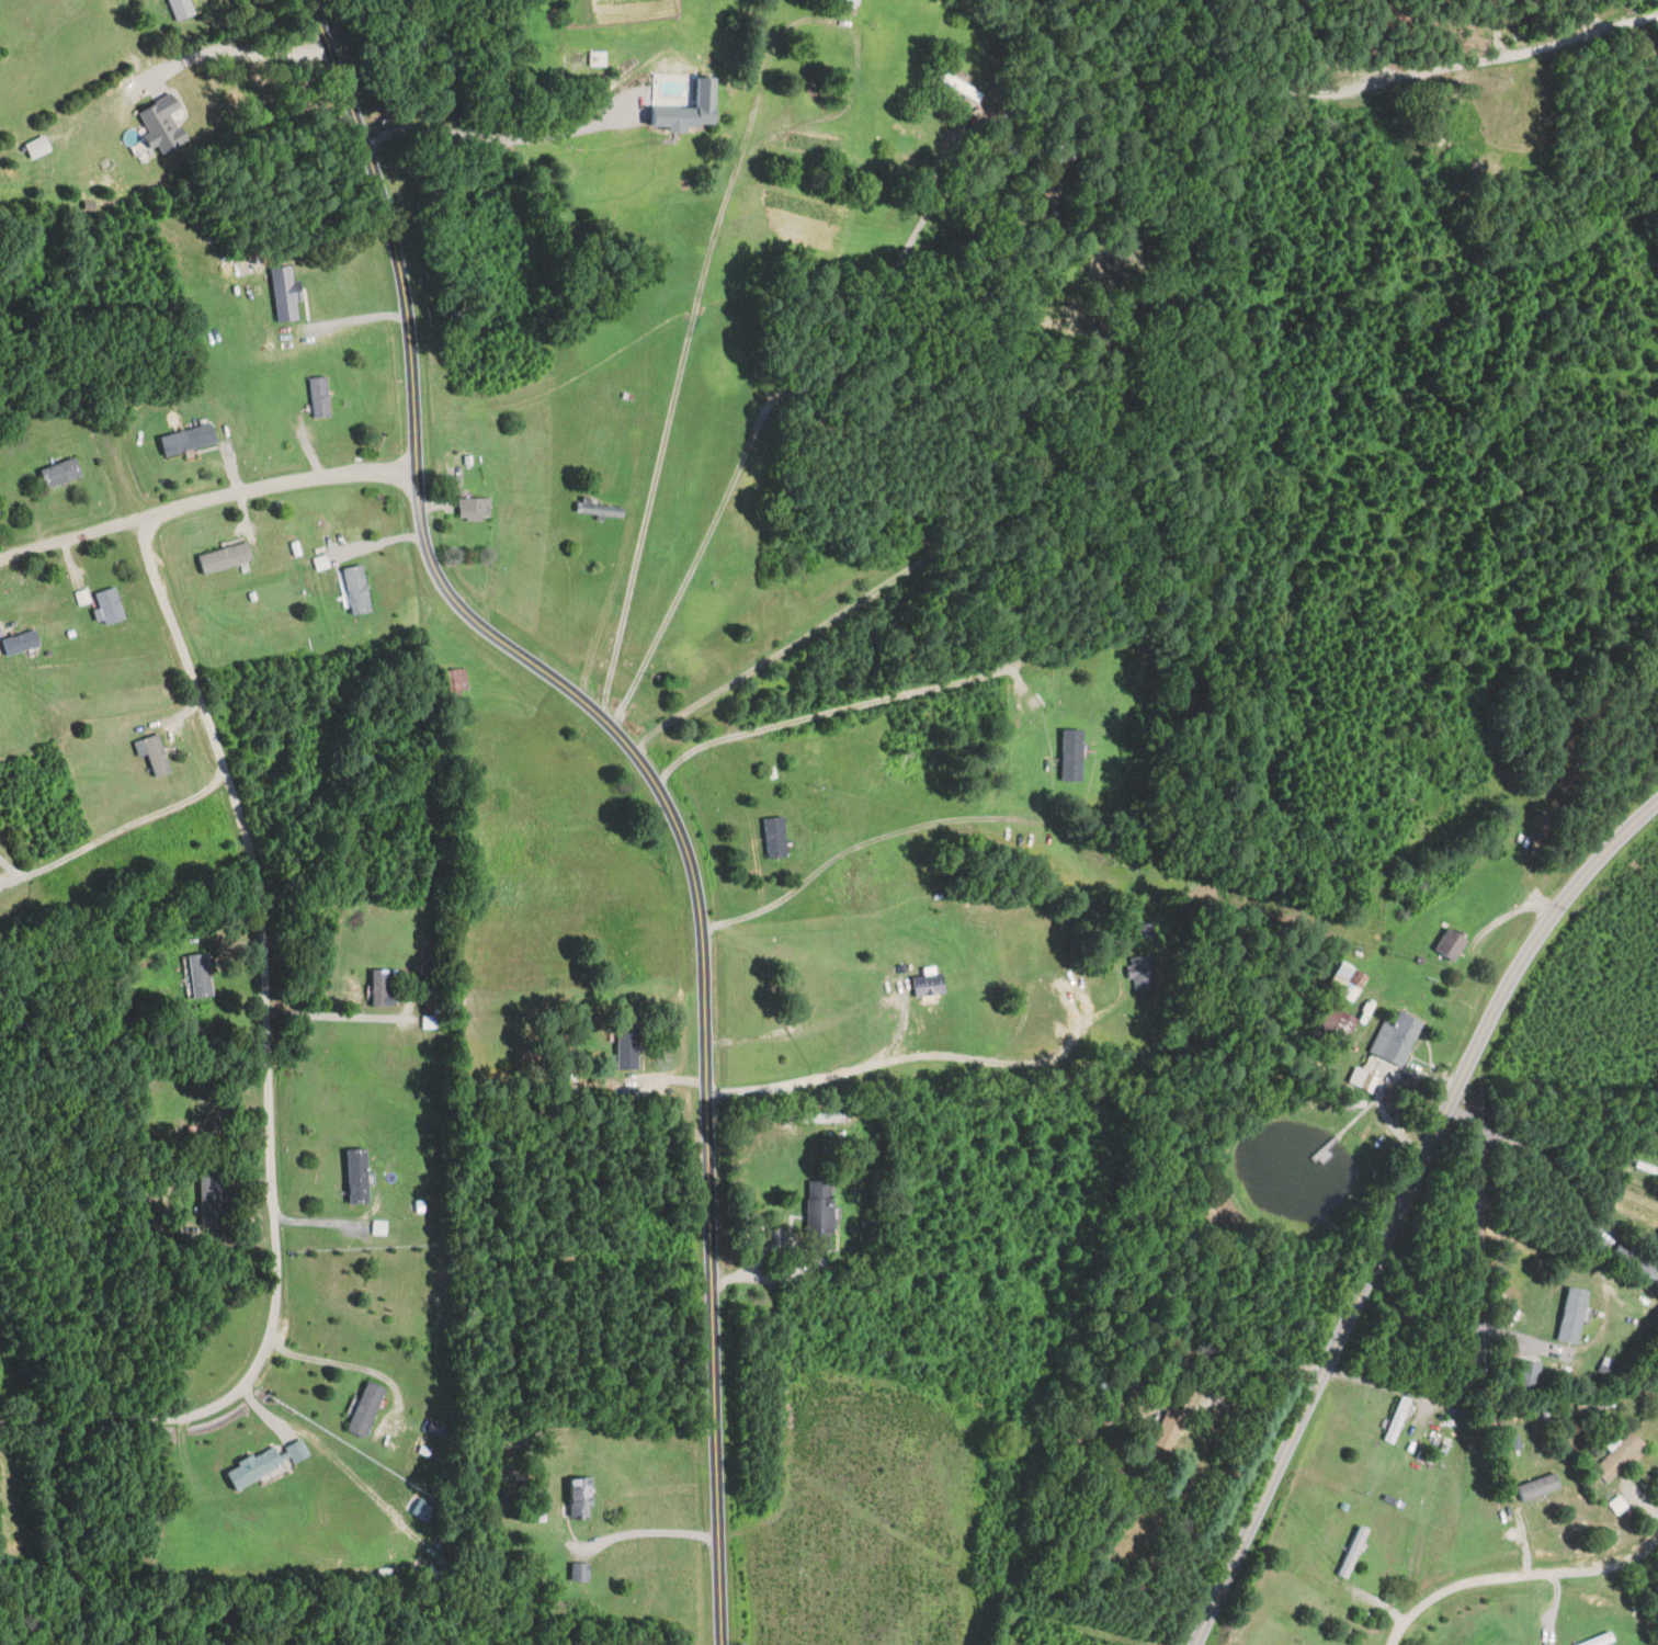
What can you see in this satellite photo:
building: (850, 3)
building: (182, 9)
road: (1588, 18)
road: (230, 47)
road: (1496, 60)
building: (959, 87)
building: (690, 111)
road: (500, 137)
building: (1053, 218)
building: (285, 294)
road: (354, 319)
road: (674, 378)
building: (321, 397)
building: (189, 439)
building: (455, 460)
building: (63, 472)
road: (206, 501)
building: (599, 508)
building: (476, 509)
building: (227, 557)
building: (359, 589)
building: (112, 605)
building: (22, 642)
building: (457, 680)
road: (837, 710)
building: (156, 755)
building: (1074, 755)
road: (648, 771)
road: (115, 832)
building: (776, 838)
road: (1540, 841)
road: (871, 844)
building: (872, 881)
building: (1143, 928)
building: (1452, 944)
building: (1139, 971)
building: (201, 975)
building: (927, 980)
building: (1349, 980)
building: (383, 989)
building: (1337, 1024)
building: (1397, 1037)
building: (629, 1046)
road: (915, 1051)
road: (1470, 1051)
road: (266, 1071)
building: (1367, 1080)
building: (824, 1118)
building: (837, 1142)
building: (1647, 1168)
road: (1552, 1169)
building: (359, 1176)
building: (211, 1198)
road: (1475, 1205)
building: (821, 1211)
building: (1638, 1262)
building: (1575, 1315)
road: (1267, 1366)
building: (1529, 1374)
building: (367, 1409)
building: (1397, 1420)
building: (441, 1429)
building: (1169, 1430)
building: (298, 1452)
building: (1622, 1457)
building: (257, 1468)
building: (1542, 1488)
road: (1265, 1490)
building: (582, 1498)
road: (646, 1532)
building: (1354, 1553)
building: (581, 1573)
road: (1515, 1576)
building: (1602, 1640)

